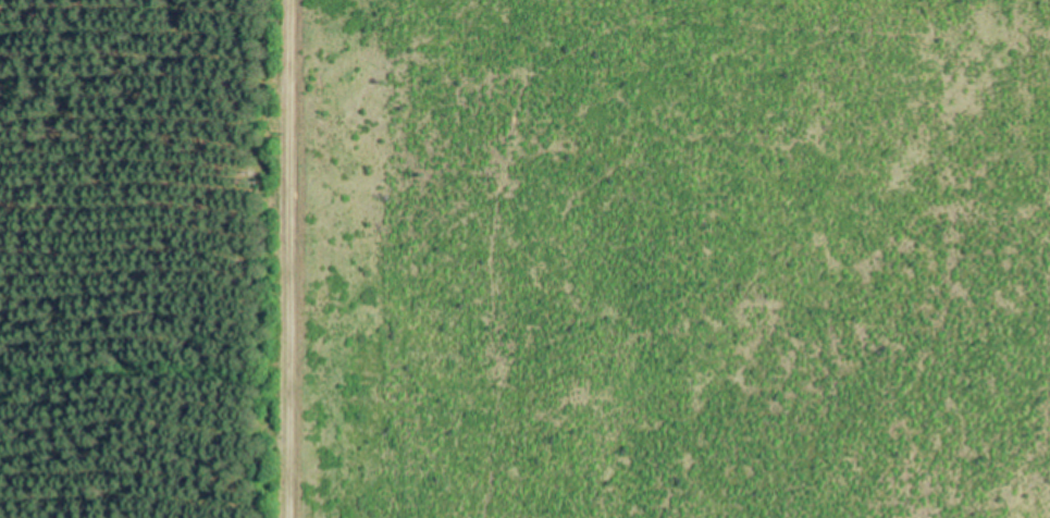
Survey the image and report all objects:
road: (281, 259)

